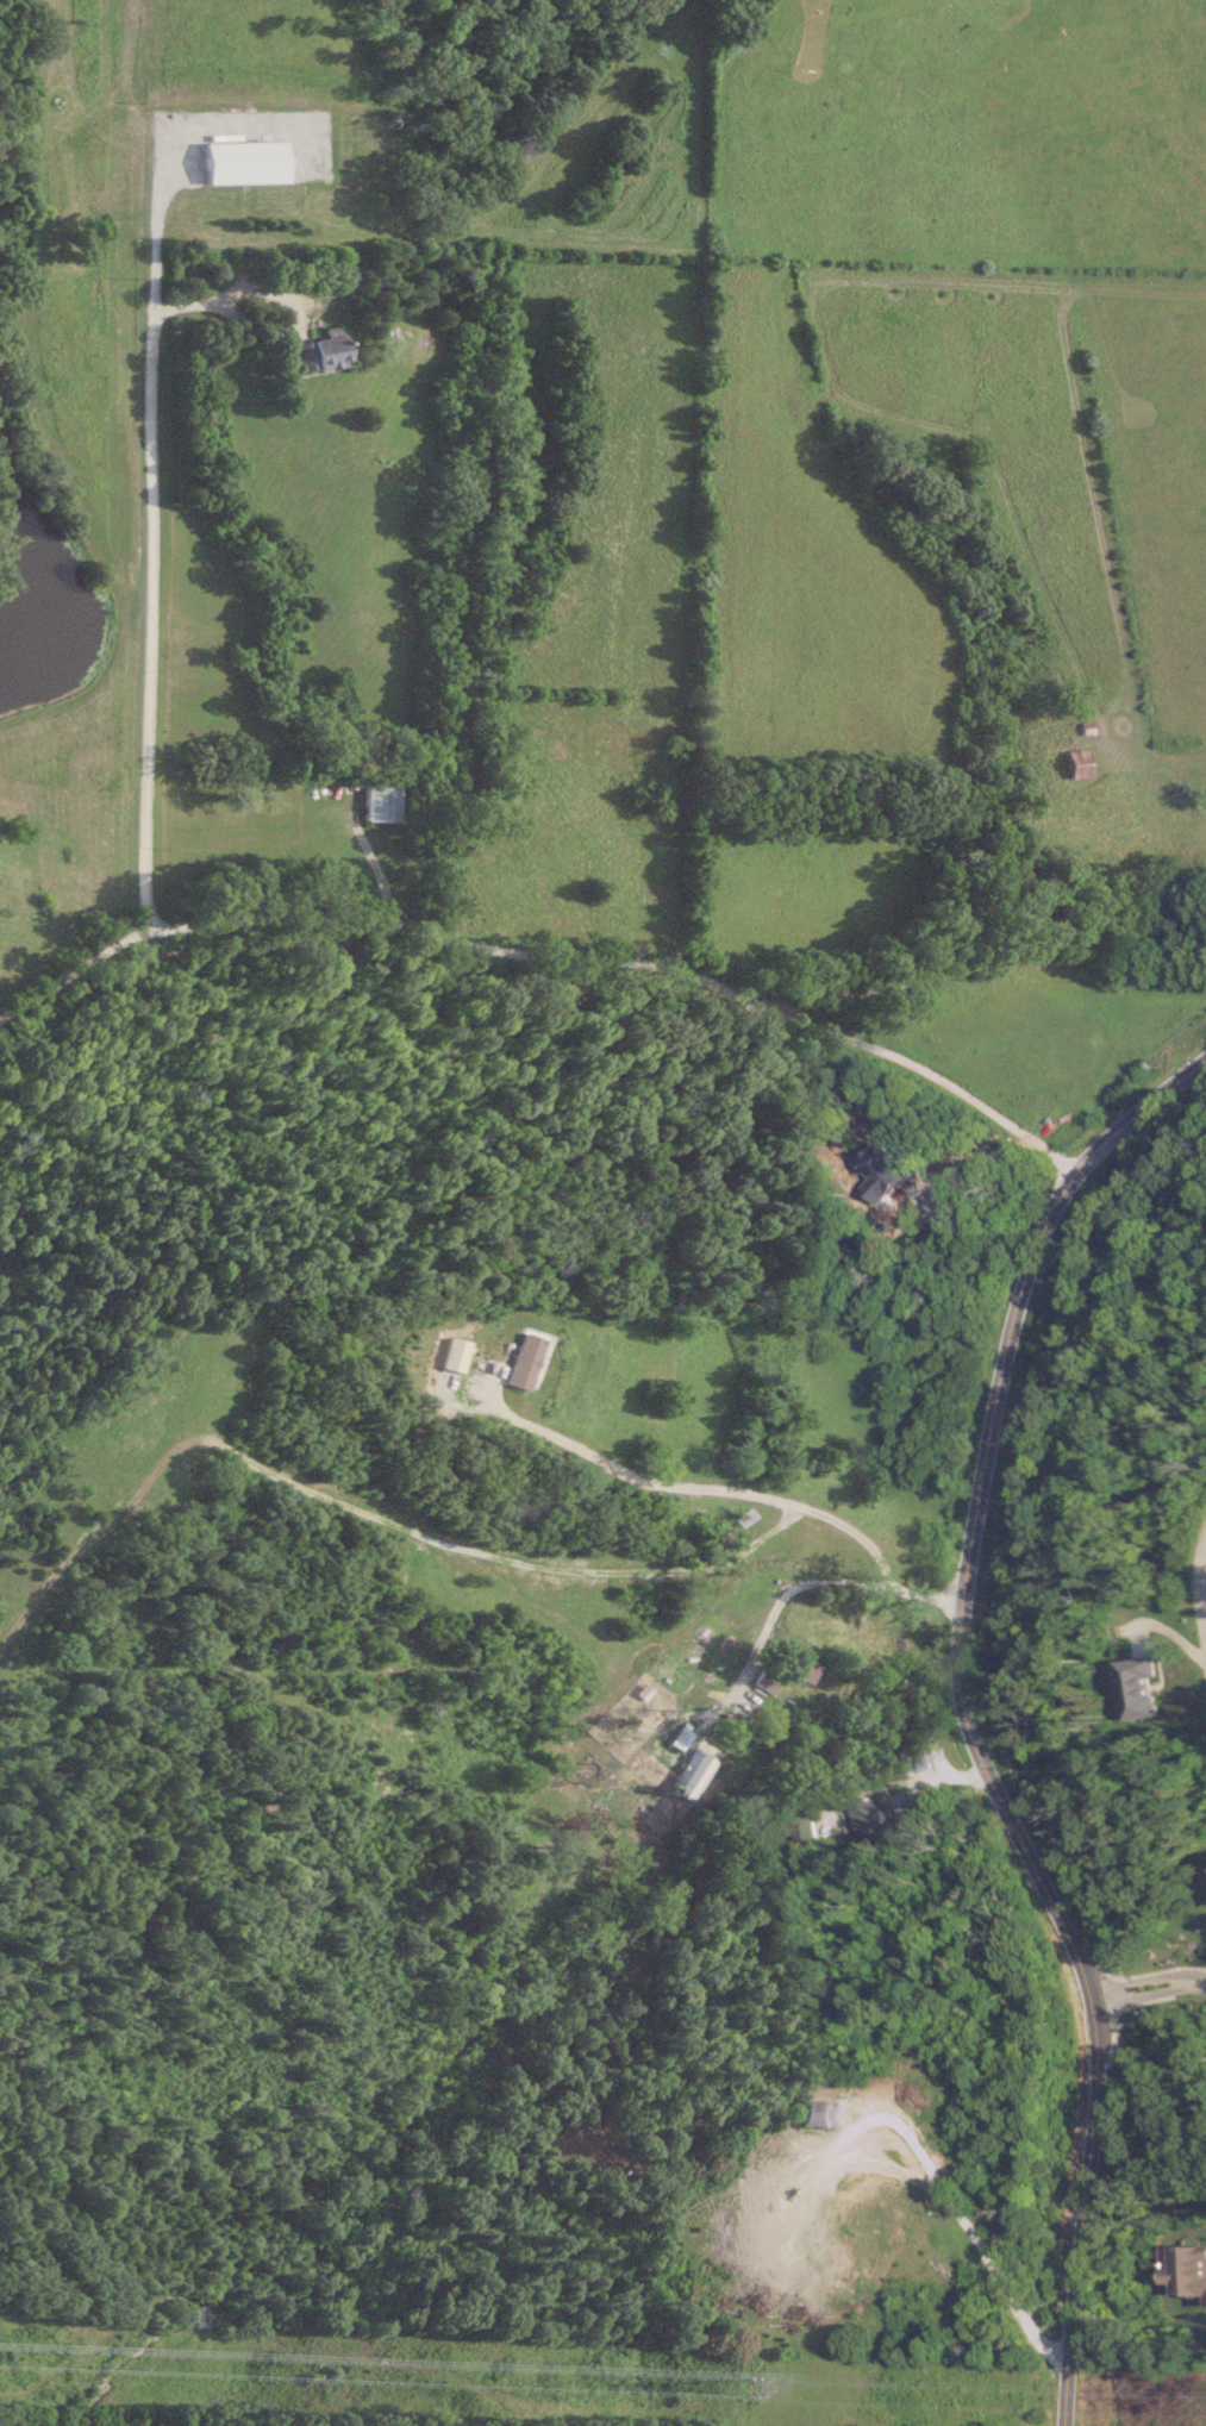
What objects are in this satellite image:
building: (249, 161)
road: (279, 330)
building: (325, 356)
road: (152, 534)
building: (1077, 763)
building: (383, 798)
road: (548, 949)
building: (458, 1356)
building: (529, 1361)
road: (741, 1492)
road: (775, 1607)
building: (798, 1668)
building: (1144, 1689)
road: (968, 1717)
building: (676, 1739)
building: (917, 1758)
building: (688, 1775)
building: (869, 1815)
road: (1152, 1981)
building: (819, 2114)
road: (970, 2234)
building: (1193, 2275)
power tower: (760, 2389)

